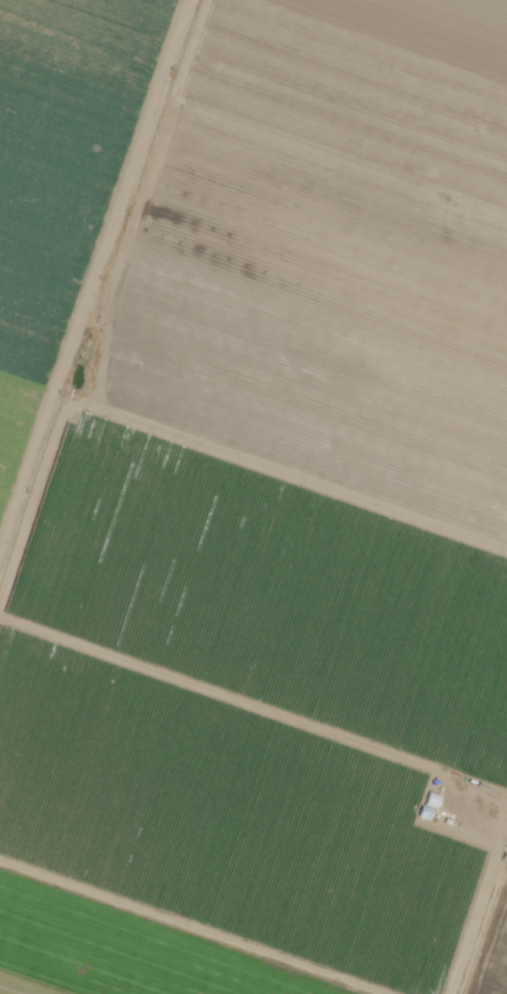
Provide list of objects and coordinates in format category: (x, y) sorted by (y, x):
crop: (60, 182)
crop: (277, 536)
building: (456, 807)
building: (426, 813)
crop: (492, 950)

